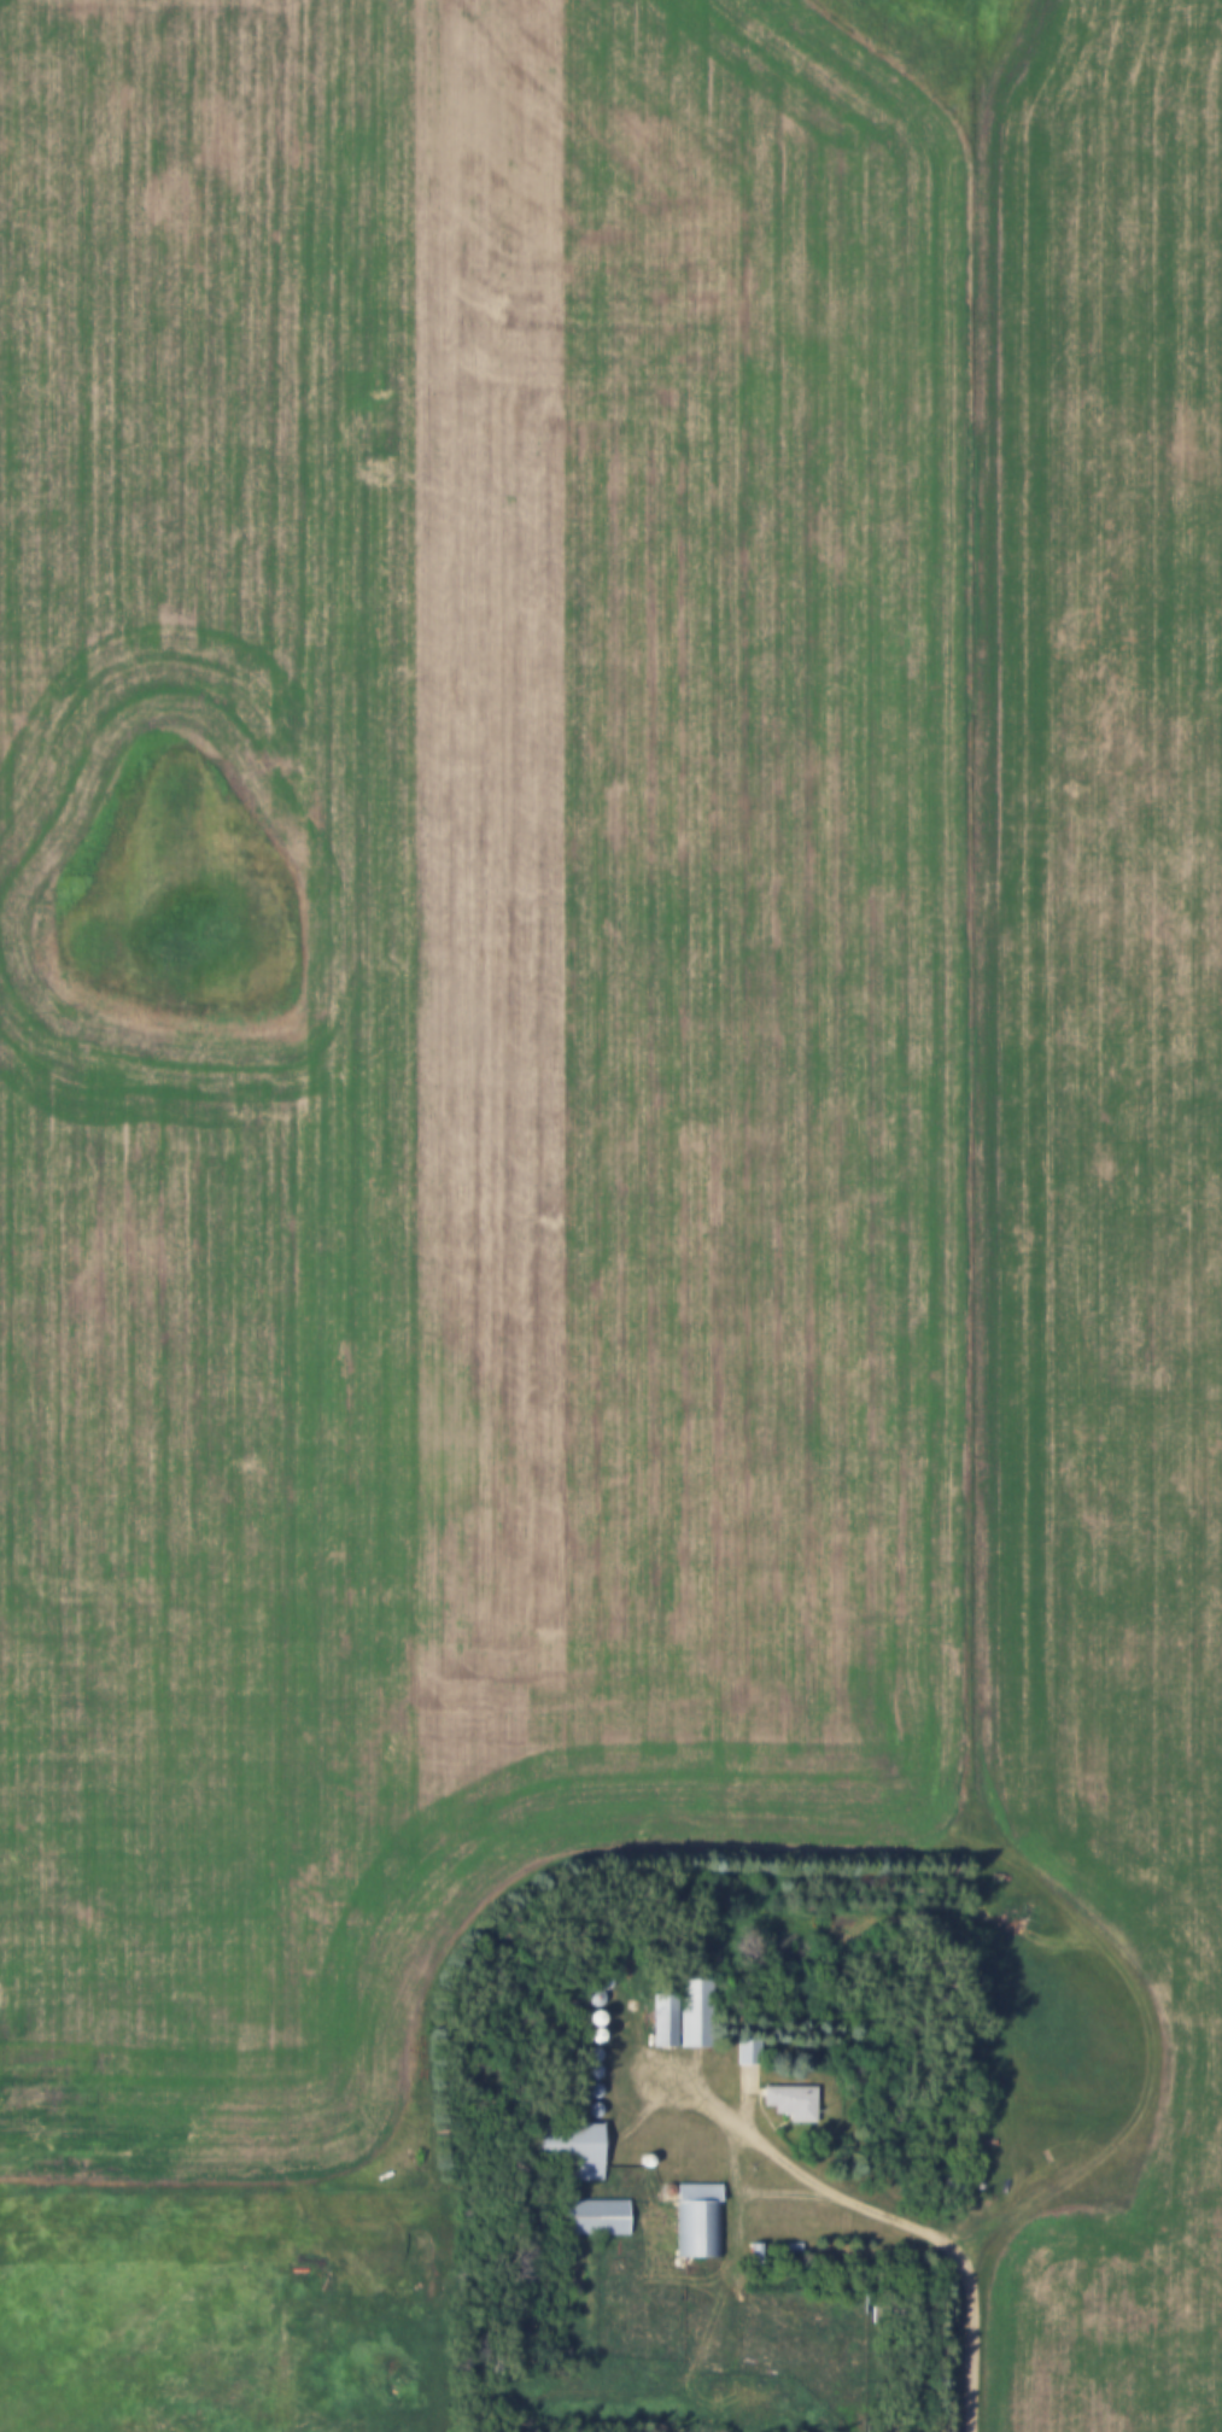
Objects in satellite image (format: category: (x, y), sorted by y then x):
road: (986, 1138)
road: (433, 1968)
building: (698, 2017)
building: (667, 2036)
building: (794, 2105)
building: (568, 2151)
road: (893, 2215)
building: (597, 2221)
building: (701, 2223)

